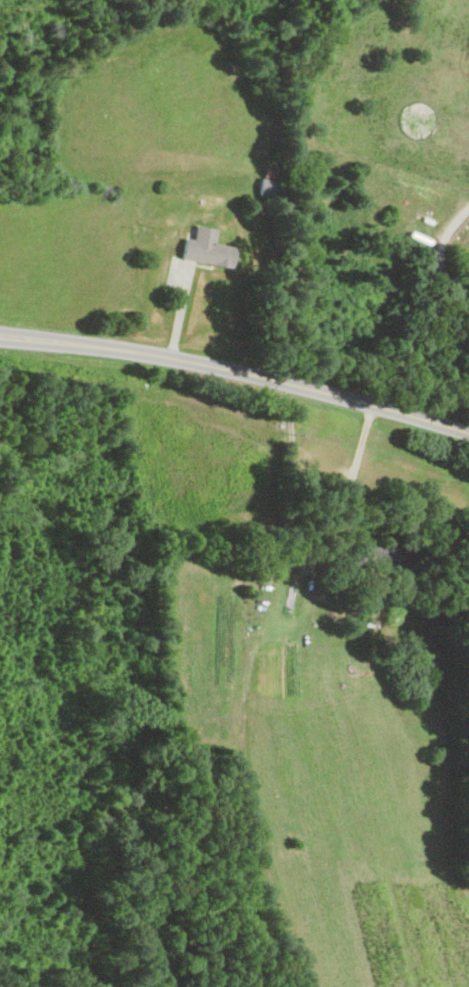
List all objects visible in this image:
building: (269, 172)
building: (206, 248)
road: (438, 257)
road: (237, 370)
road: (354, 472)
building: (382, 557)

